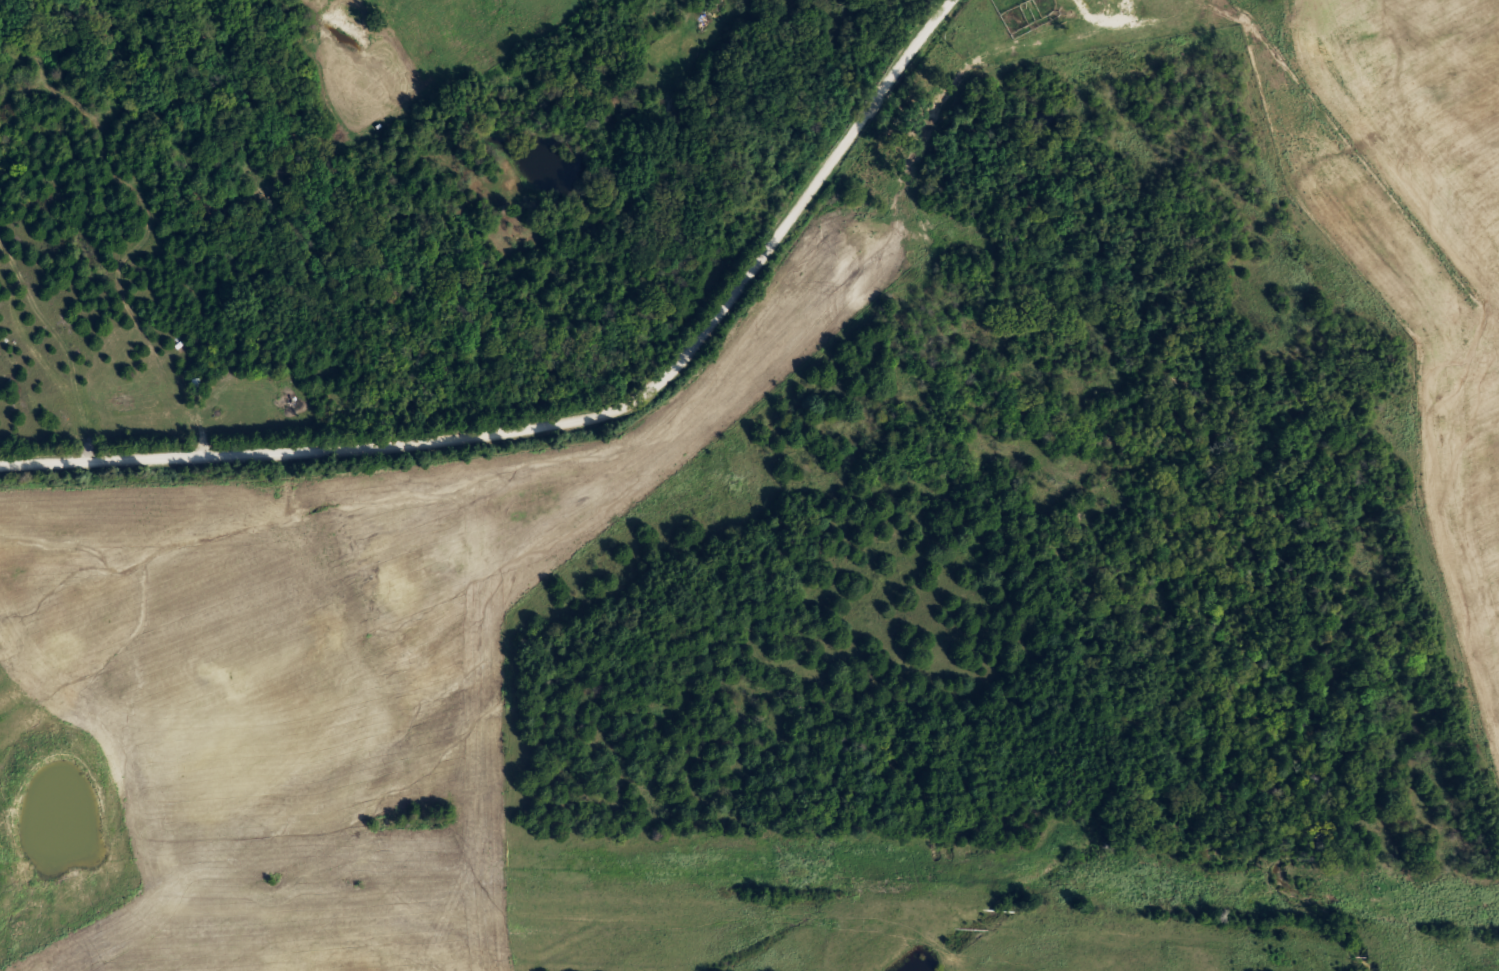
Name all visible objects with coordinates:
road: (570, 416)

